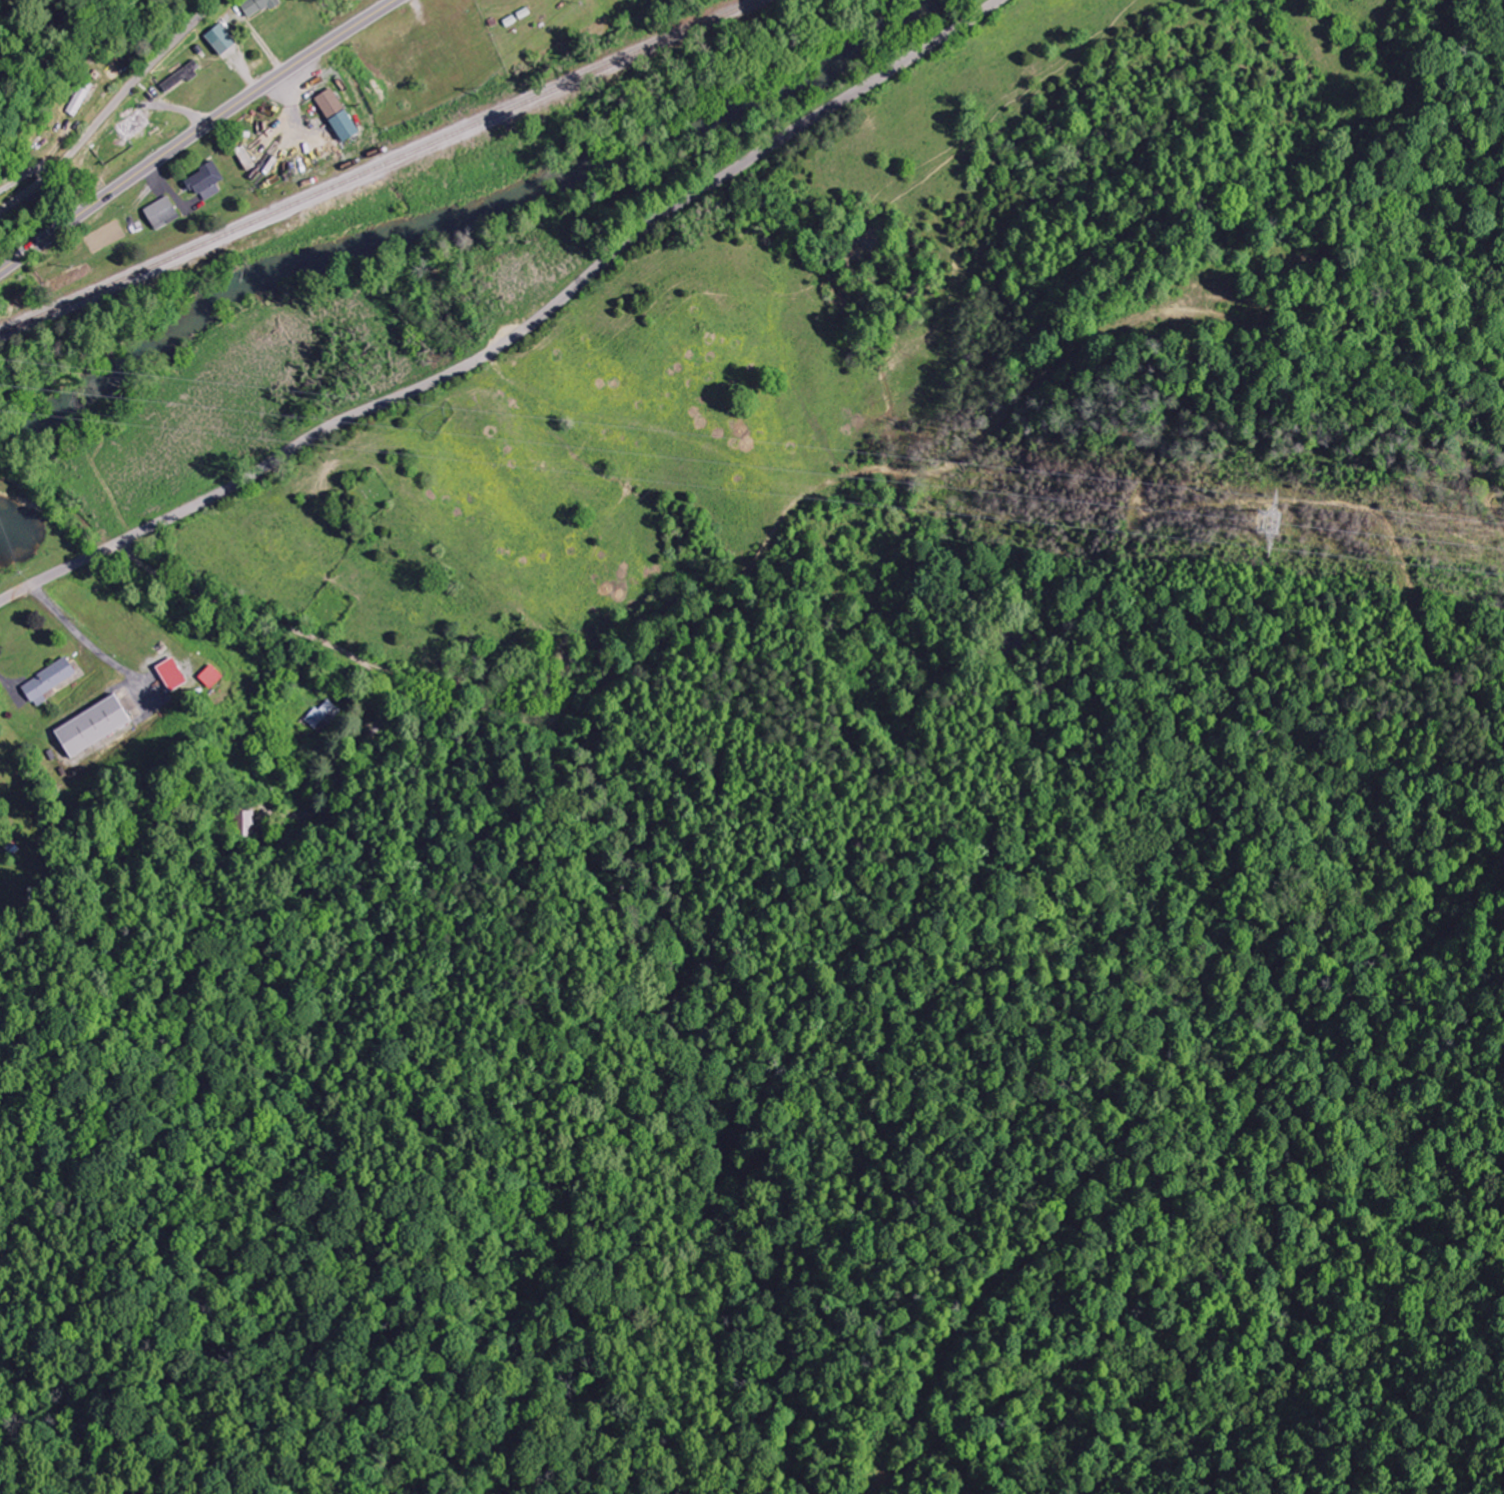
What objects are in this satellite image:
building: (257, 7)
building: (224, 40)
building: (185, 76)
road: (109, 107)
building: (342, 116)
road: (196, 132)
railway: (379, 167)
building: (210, 182)
building: (165, 213)
road: (518, 332)
power tower: (1268, 520)
road: (357, 578)
road: (307, 582)
building: (175, 674)
building: (214, 676)
building: (52, 680)
building: (324, 714)
building: (99, 725)
building: (245, 819)

